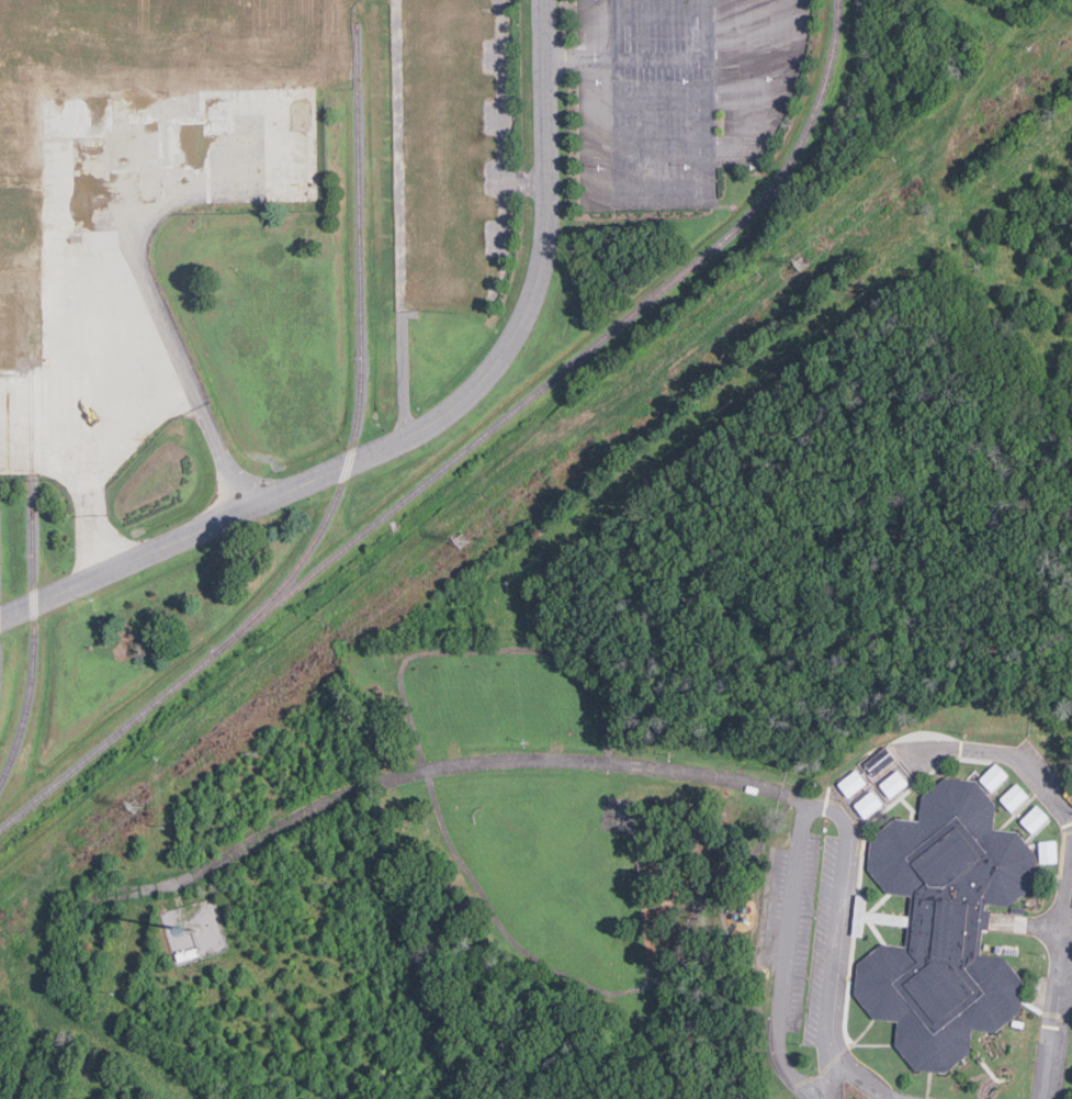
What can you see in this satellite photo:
road: (566, 58)
road: (645, 190)
power tower: (806, 263)
railway: (361, 354)
road: (426, 423)
railway: (469, 448)
power tower: (465, 539)
railway: (34, 575)
road: (950, 747)
building: (879, 762)
road: (484, 770)
building: (993, 777)
building: (853, 783)
building: (894, 784)
building: (1016, 797)
building: (869, 804)
power tower: (138, 806)
building: (1036, 818)
building: (1050, 851)
building: (946, 922)
road: (782, 977)

